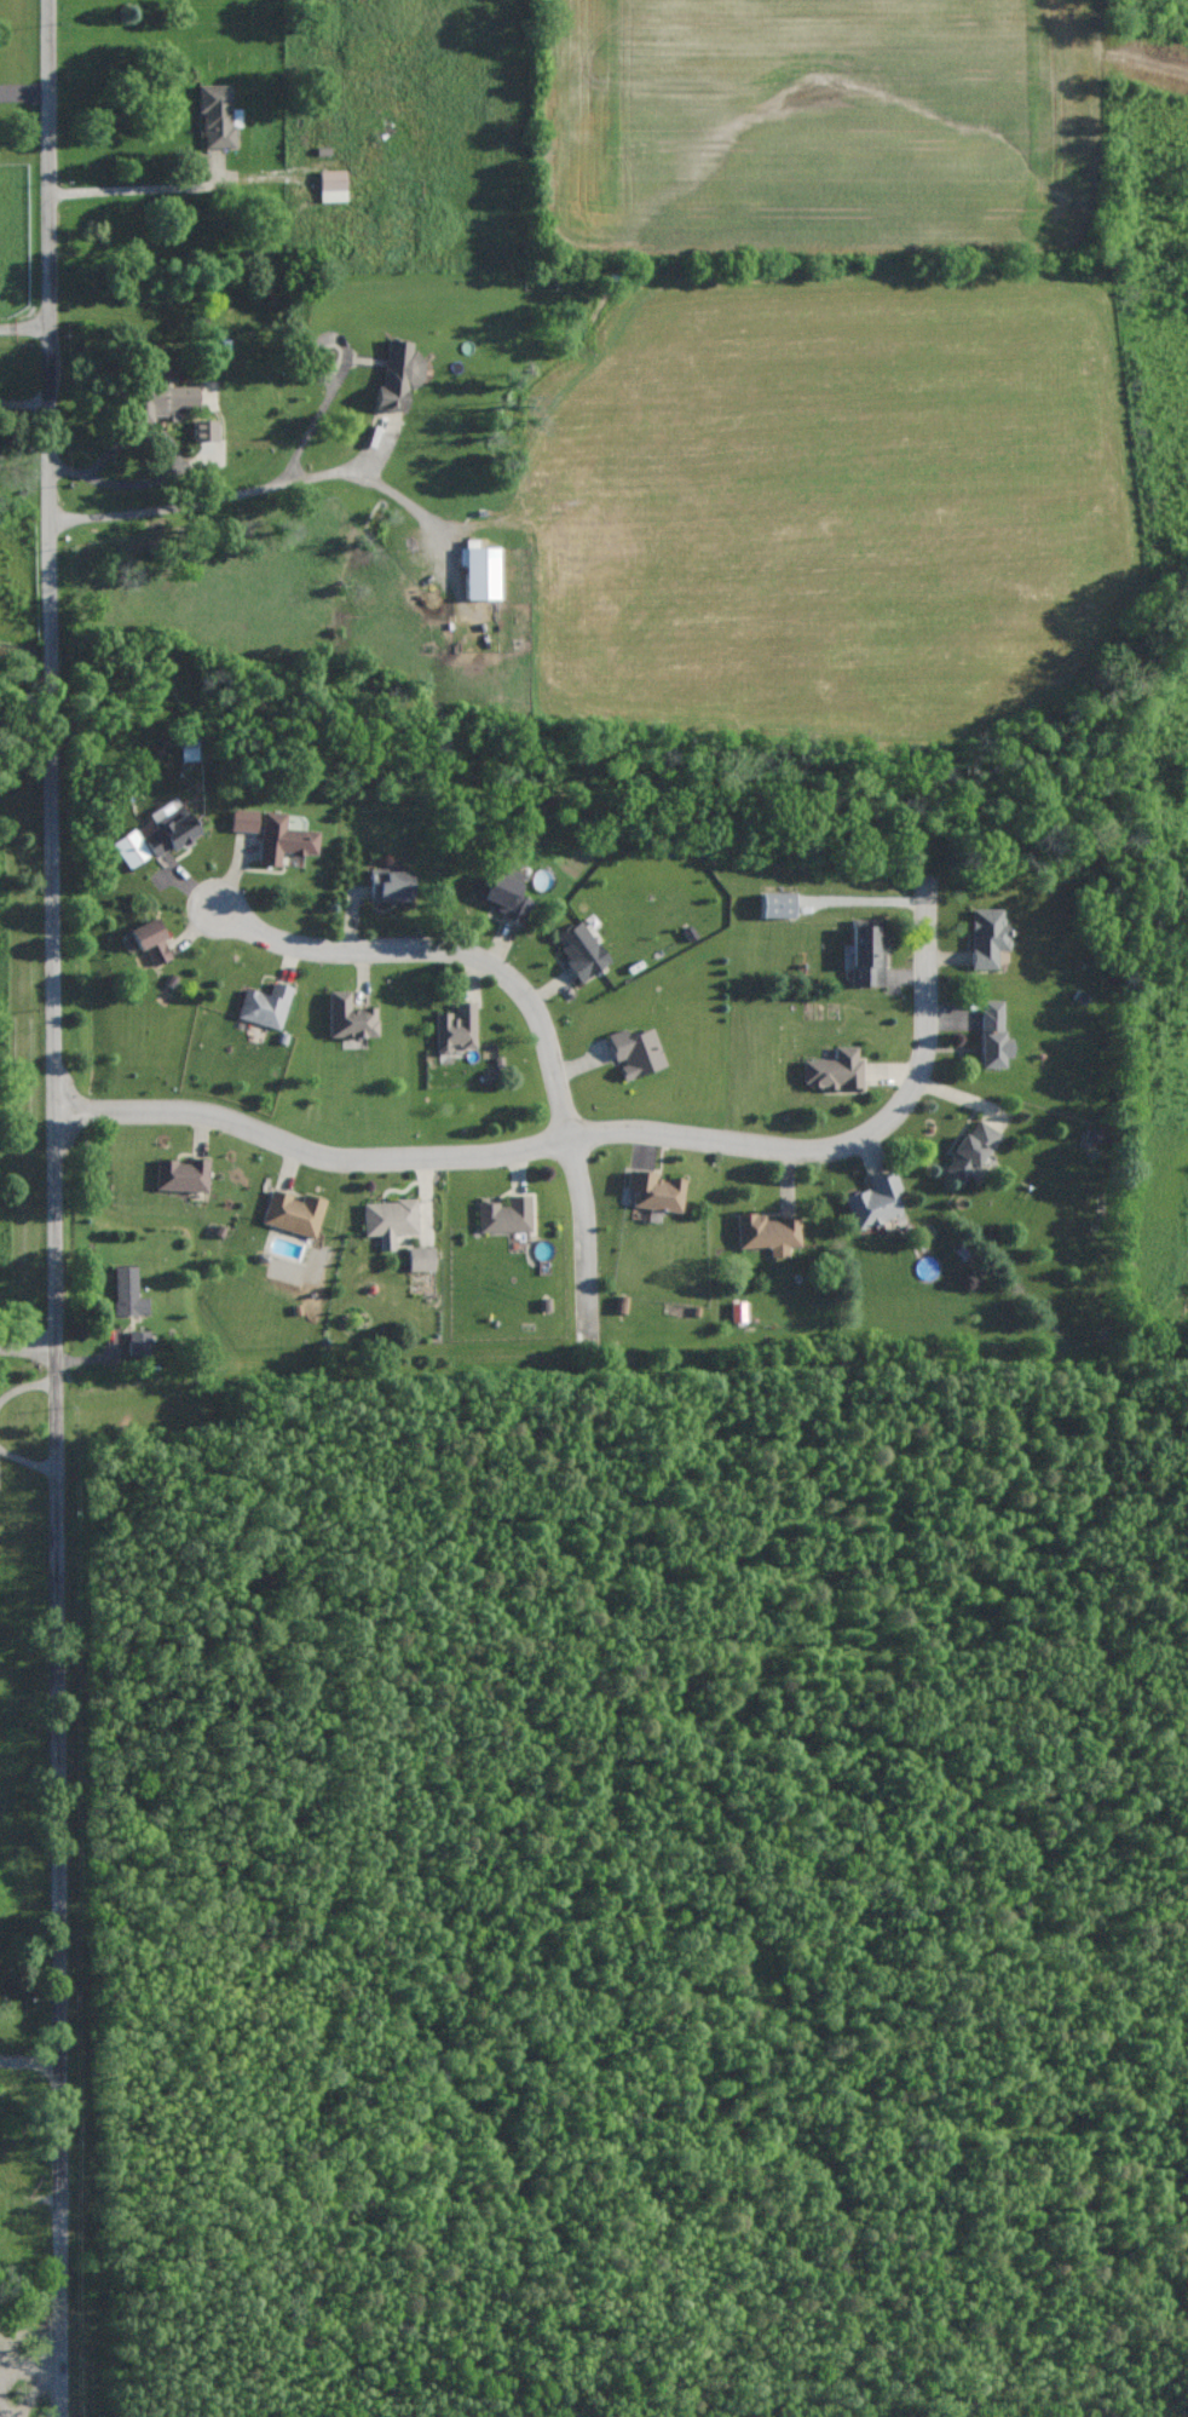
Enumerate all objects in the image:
road: (24, 92)
building: (218, 116)
building: (333, 185)
road: (143, 188)
road: (24, 329)
building: (399, 374)
building: (160, 402)
road: (24, 403)
building: (206, 430)
road: (172, 471)
road: (235, 495)
building: (244, 819)
building: (156, 838)
building: (283, 839)
building: (391, 885)
building: (506, 894)
building: (777, 904)
building: (987, 936)
building: (151, 940)
building: (581, 950)
building: (867, 953)
building: (265, 1005)
road: (532, 1008)
building: (350, 1017)
building: (456, 1028)
building: (992, 1035)
building: (636, 1052)
building: (834, 1070)
road: (593, 1135)
building: (184, 1174)
building: (654, 1190)
building: (876, 1202)
road: (56, 1208)
building: (294, 1213)
building: (506, 1214)
building: (390, 1220)
building: (767, 1232)
building: (421, 1258)
building: (128, 1293)
building: (738, 1311)
building: (142, 1343)
road: (28, 1351)
park: (22, 2059)
road: (30, 2059)
road: (30, 2338)

